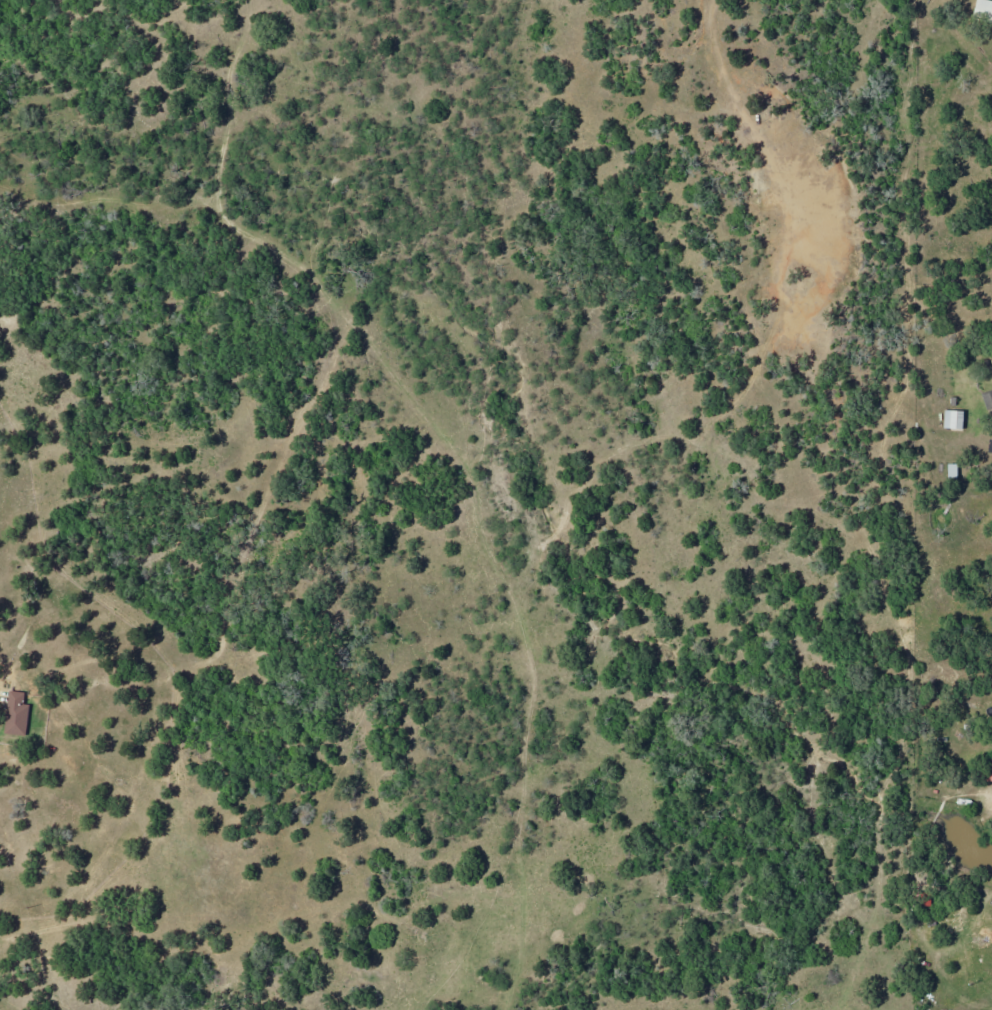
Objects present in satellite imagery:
building: (983, 6)
building: (988, 400)
building: (953, 419)
building: (952, 471)
building: (16, 714)
building: (986, 772)
road: (914, 1006)

